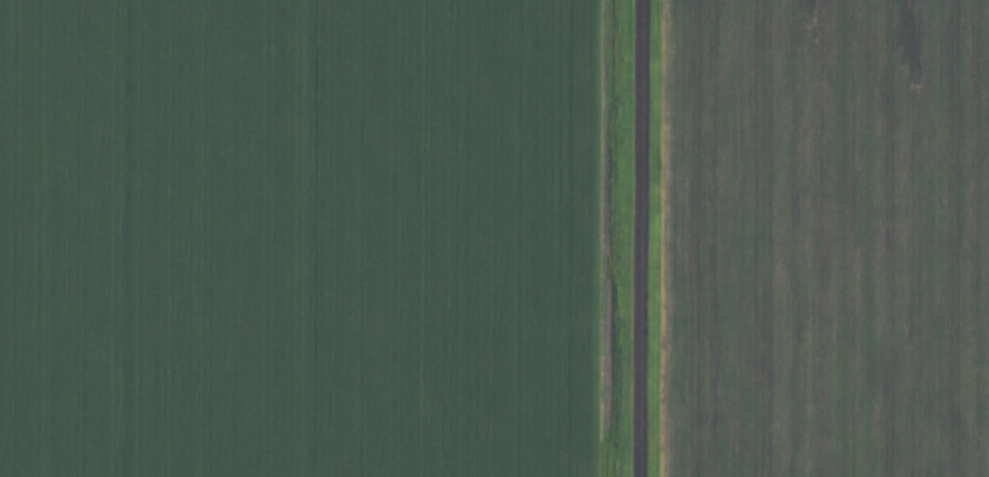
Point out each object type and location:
road: (644, 238)

